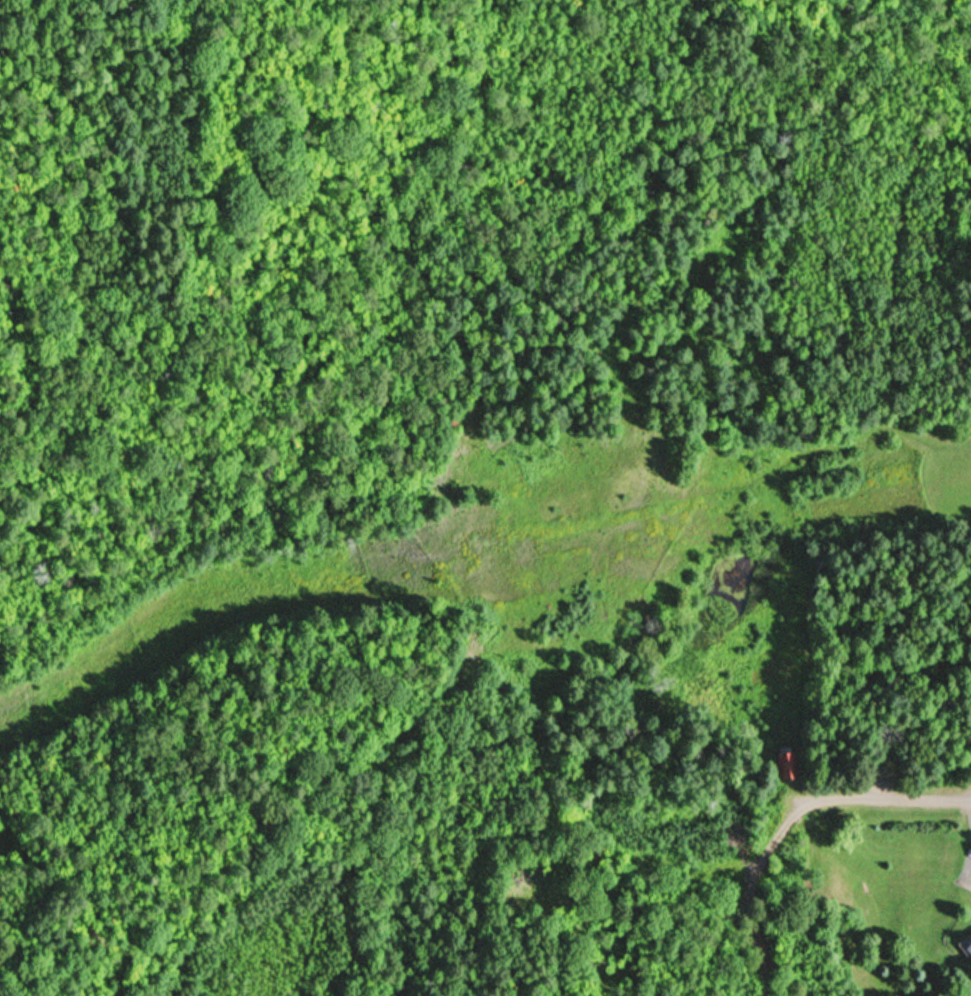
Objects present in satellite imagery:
building: (787, 765)
road: (894, 804)
building: (966, 950)

